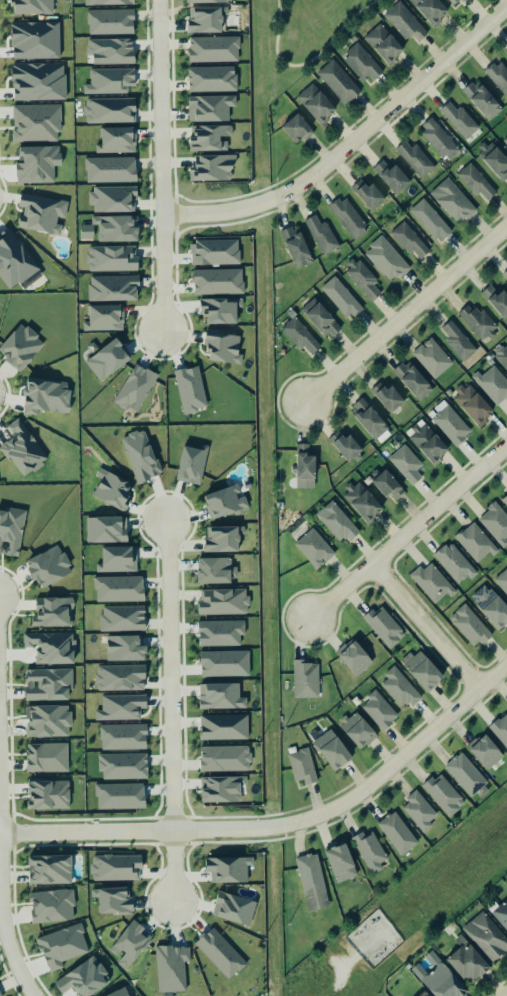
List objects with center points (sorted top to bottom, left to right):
building: (207, 1)
building: (107, 2)
building: (456, 2)
building: (32, 7)
building: (430, 10)
building: (205, 20)
building: (110, 22)
building: (404, 23)
park: (307, 35)
building: (384, 44)
building: (214, 49)
building: (111, 51)
building: (506, 51)
road: (308, 62)
building: (362, 64)
building: (498, 77)
building: (212, 79)
building: (109, 81)
building: (39, 82)
building: (339, 82)
building: (483, 100)
building: (316, 104)
building: (210, 108)
building: (110, 111)
building: (459, 120)
building: (298, 129)
building: (210, 138)
building: (116, 140)
building: (439, 140)
building: (505, 142)
road: (350, 144)
building: (416, 160)
building: (494, 160)
road: (163, 165)
building: (213, 168)
building: (110, 169)
building: (392, 177)
building: (475, 182)
building: (368, 195)
building: (113, 200)
building: (452, 202)
building: (41, 214)
building: (349, 218)
building: (430, 221)
building: (111, 229)
building: (322, 235)
building: (409, 240)
building: (296, 247)
building: (215, 253)
building: (111, 259)
building: (386, 260)
building: (14, 261)
building: (505, 274)
building: (362, 279)
building: (218, 282)
building: (113, 289)
building: (341, 298)
building: (496, 300)
building: (219, 311)
road: (407, 315)
building: (104, 318)
building: (320, 318)
building: (477, 322)
building: (300, 336)
building: (458, 342)
building: (21, 347)
building: (224, 348)
building: (502, 356)
building: (432, 358)
building: (107, 360)
building: (413, 381)
building: (493, 385)
building: (135, 389)
building: (190, 390)
building: (47, 397)
building: (387, 397)
building: (473, 405)
building: (371, 422)
building: (451, 425)
building: (428, 443)
building: (345, 446)
building: (23, 450)
building: (140, 457)
building: (305, 463)
building: (192, 465)
building: (406, 465)
building: (389, 486)
building: (114, 493)
building: (504, 499)
building: (361, 502)
building: (225, 503)
building: (338, 523)
building: (495, 524)
building: (106, 531)
building: (11, 532)
road: (406, 535)
building: (222, 540)
building: (475, 542)
building: (314, 549)
building: (117, 560)
building: (455, 563)
building: (50, 568)
building: (215, 571)
building: (502, 581)
building: (432, 583)
building: (119, 590)
building: (223, 602)
building: (491, 606)
building: (53, 613)
building: (122, 619)
building: (470, 626)
building: (384, 627)
road: (424, 628)
building: (221, 633)
building: (125, 649)
building: (354, 657)
building: (224, 664)
building: (422, 670)
building: (120, 678)
building: (305, 679)
building: (47, 685)
building: (399, 689)
building: (221, 697)
building: (121, 707)
road: (171, 711)
building: (379, 711)
building: (48, 721)
building: (224, 728)
building: (500, 730)
building: (359, 731)
building: (123, 737)
building: (333, 750)
building: (485, 752)
building: (47, 758)
building: (225, 759)
building: (123, 767)
building: (303, 767)
building: (465, 775)
building: (222, 790)
building: (48, 795)
building: (444, 795)
building: (120, 797)
building: (420, 812)
road: (282, 826)
building: (397, 834)
building: (370, 852)
building: (341, 863)
building: (115, 868)
building: (50, 870)
building: (228, 870)
building: (312, 883)
building: (115, 901)
building: (52, 907)
building: (234, 909)
building: (501, 915)
road: (3, 918)
building: (486, 937)
building: (129, 945)
building: (62, 947)
building: (220, 954)
building: (468, 962)
building: (171, 969)
building: (443, 983)
building: (120, 993)
building: (422, 994)
building: (0, 995)

